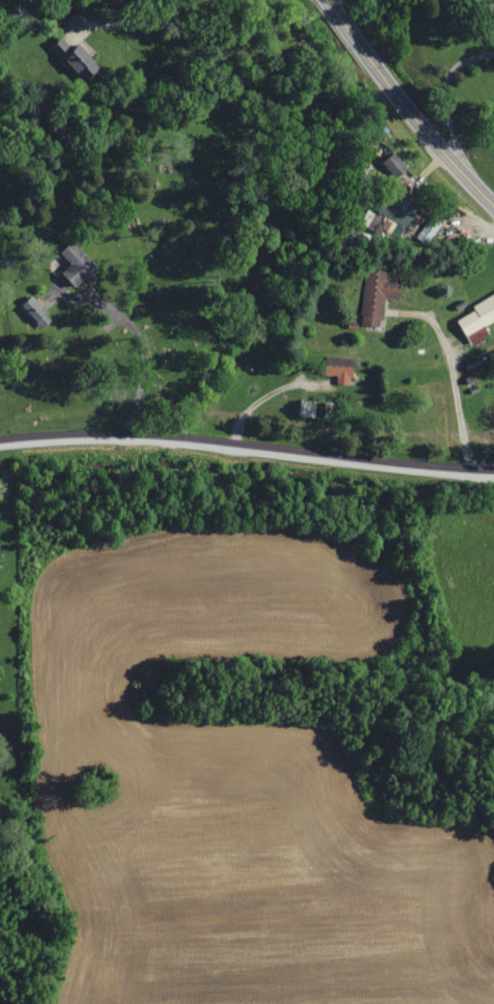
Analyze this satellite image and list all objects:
building: (485, 1)
road: (136, 23)
road: (476, 103)
road: (408, 104)
building: (397, 165)
building: (401, 209)
building: (378, 223)
building: (79, 264)
building: (378, 296)
building: (36, 314)
building: (478, 319)
building: (307, 408)
road: (247, 447)

